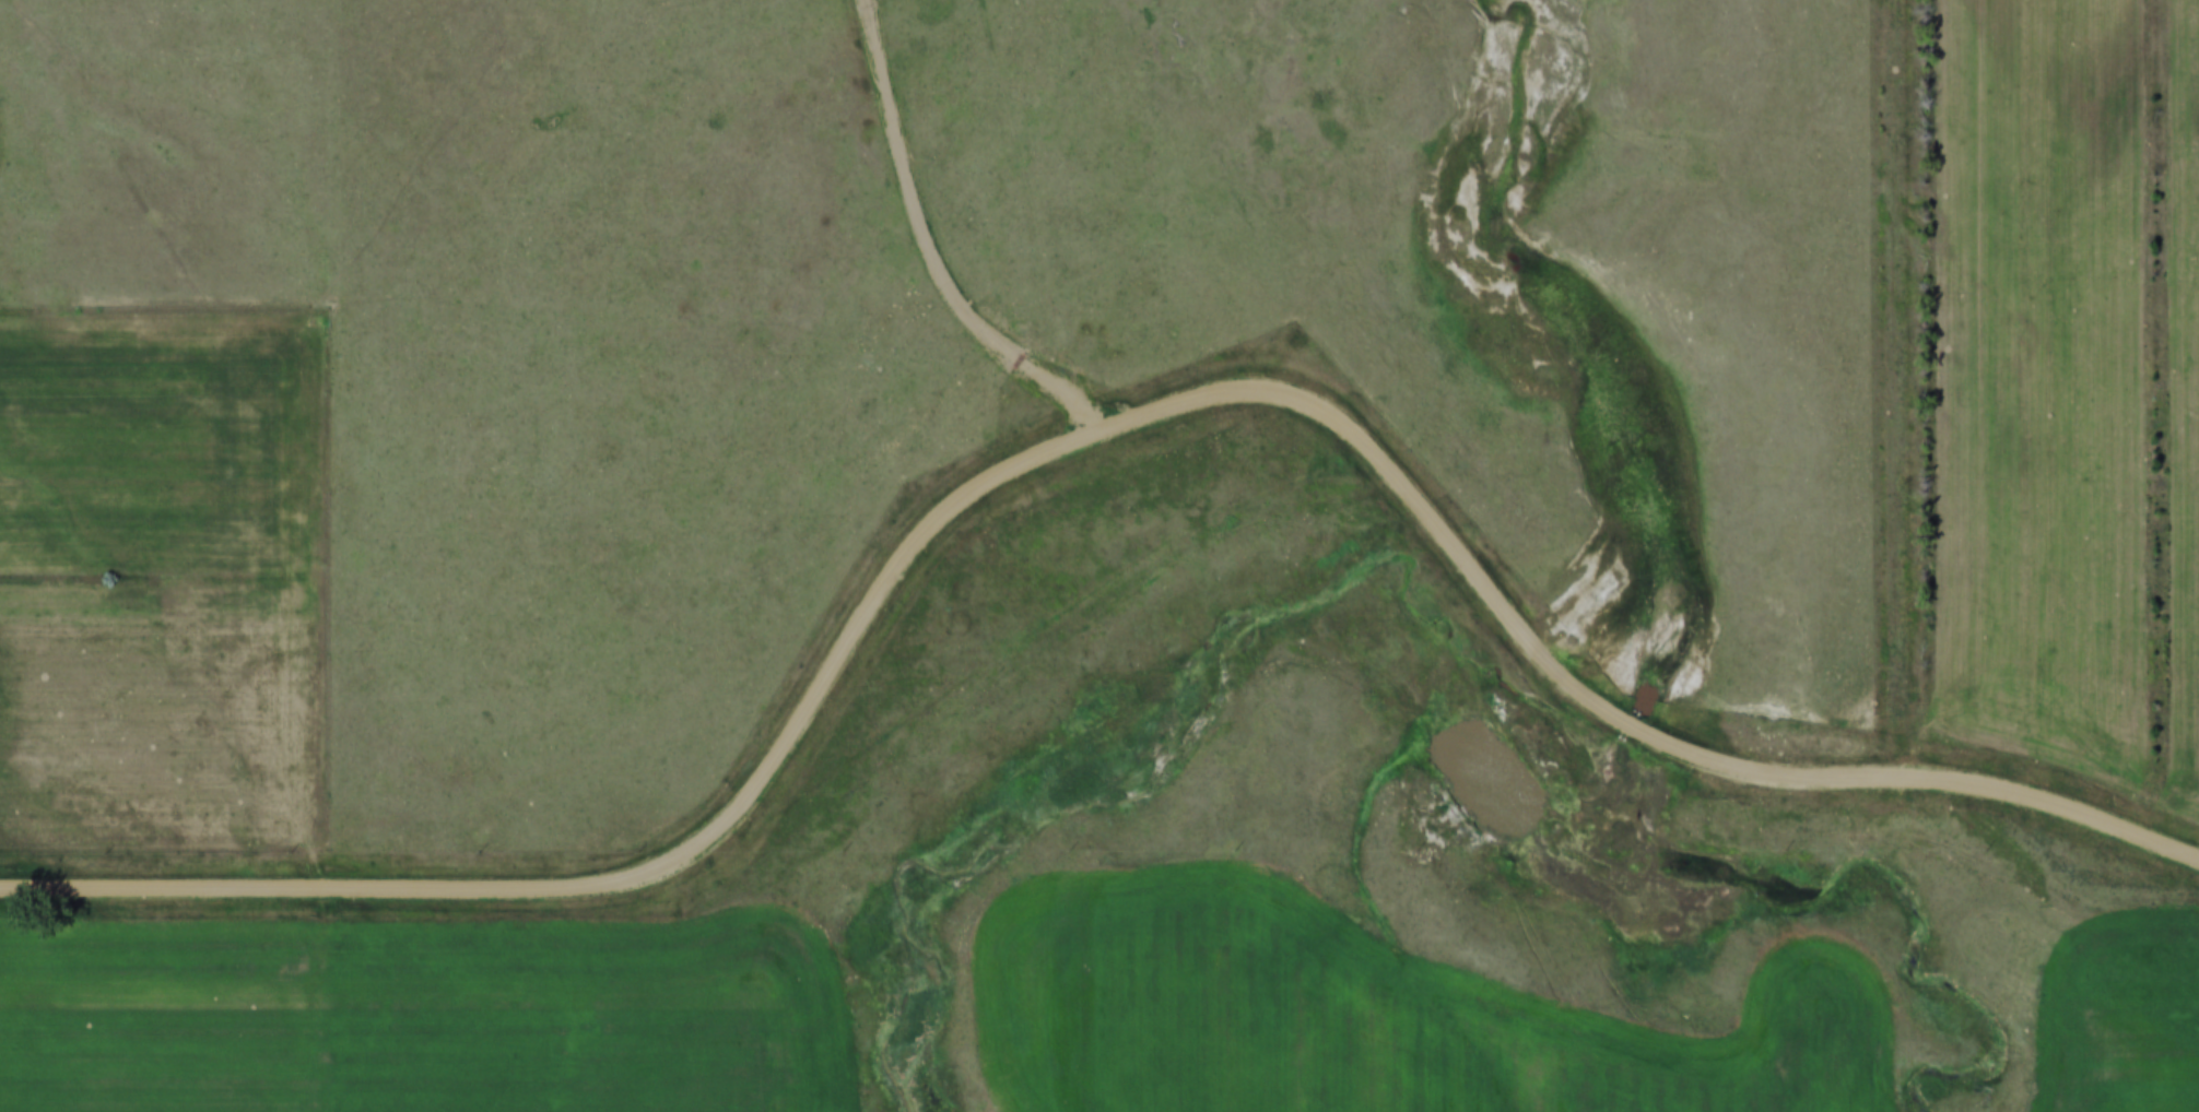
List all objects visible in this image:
road: (1084, 434)

